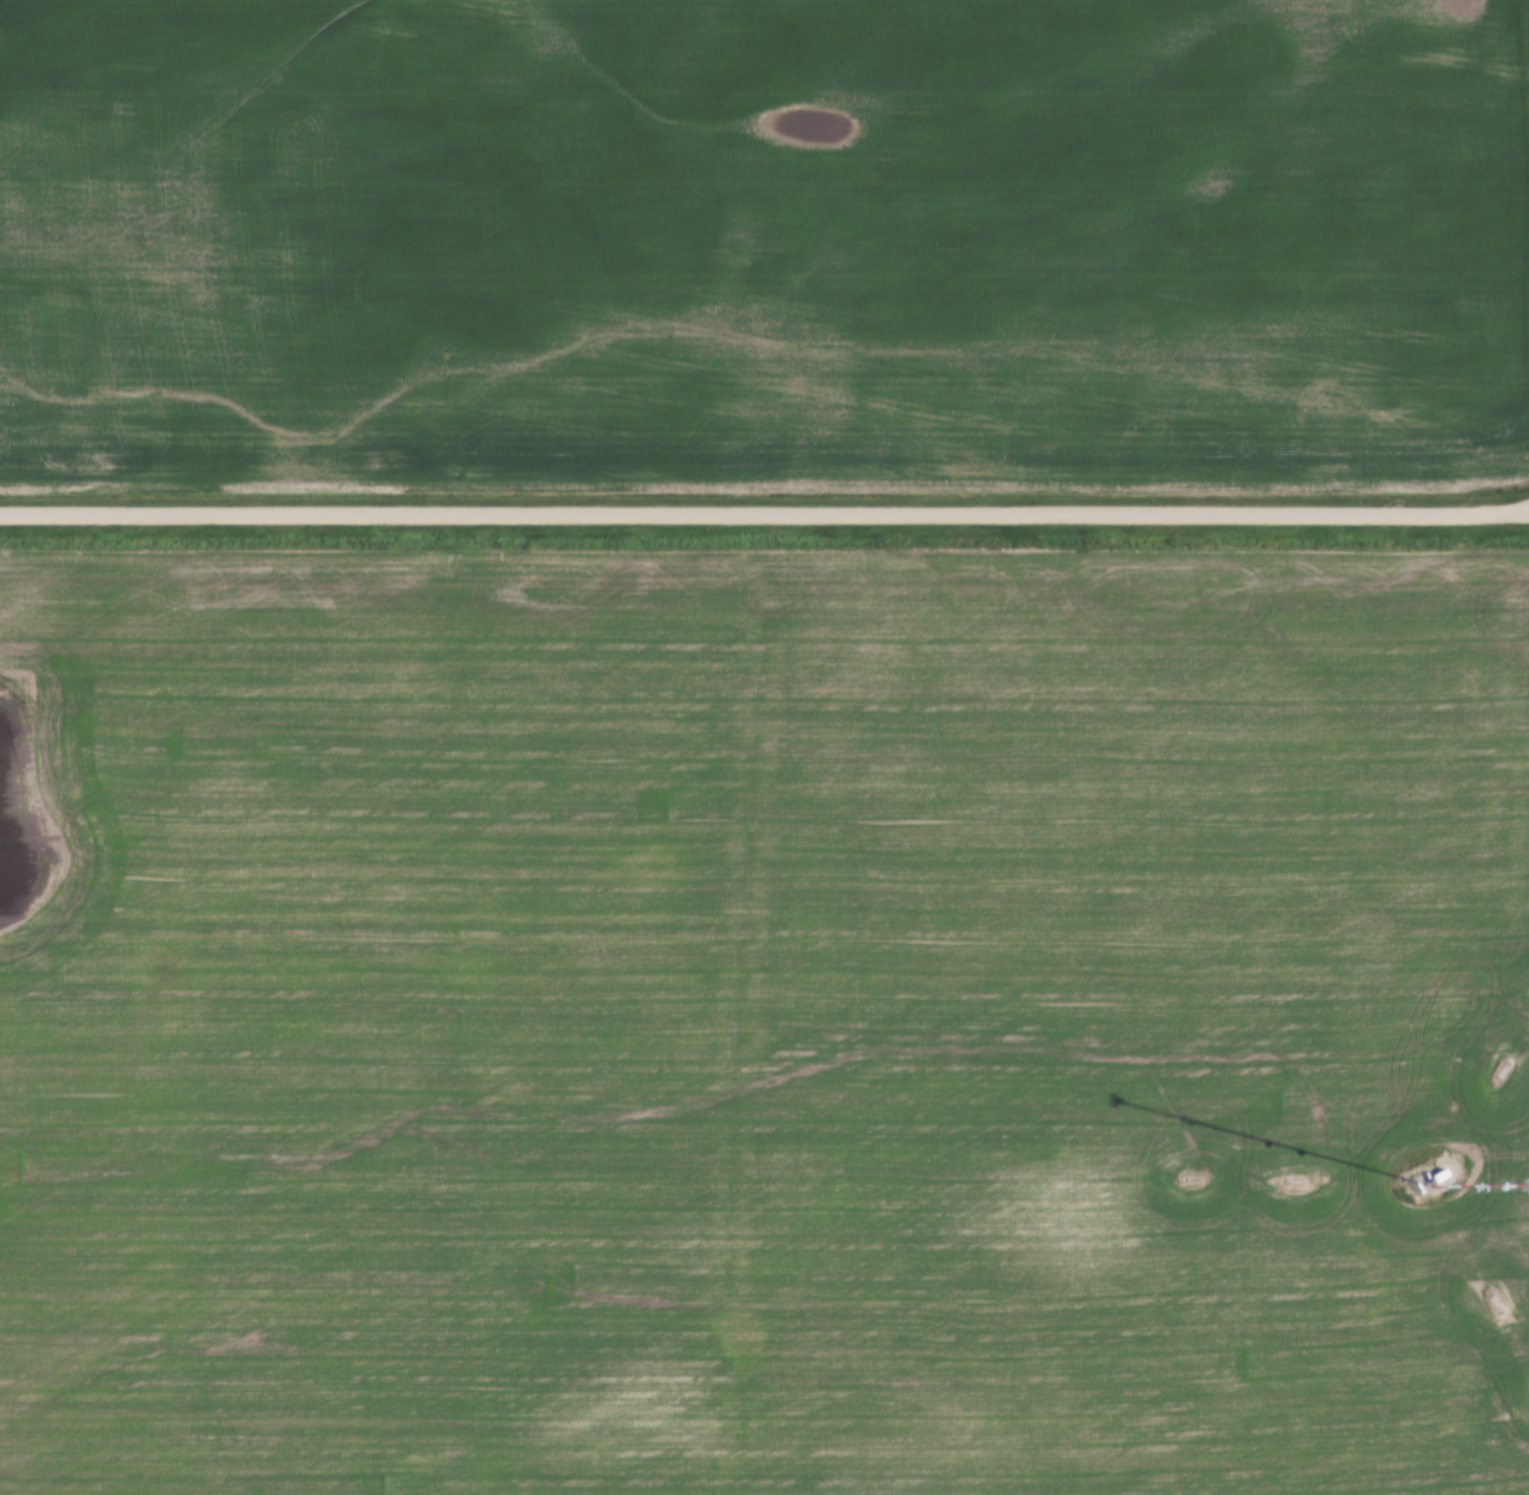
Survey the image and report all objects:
road: (1515, 511)
road: (750, 513)
road: (1515, 515)
building: (1438, 1177)

